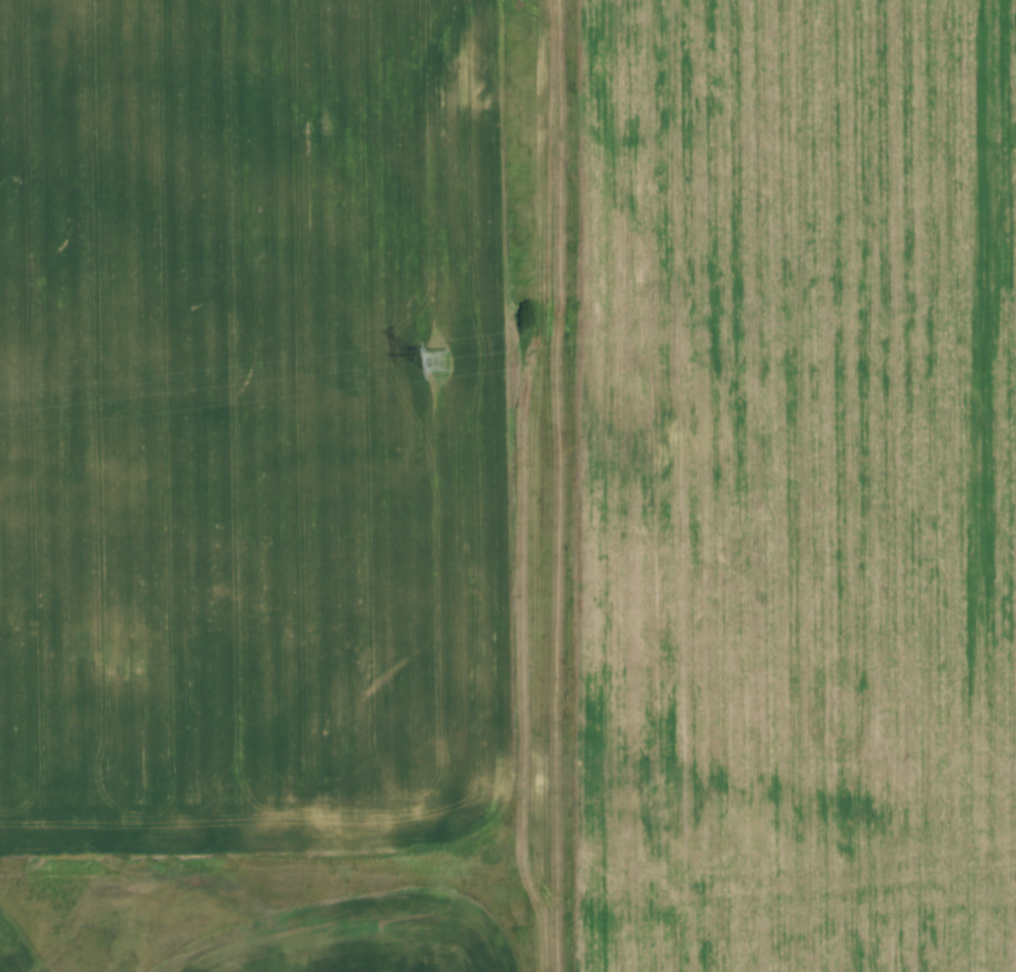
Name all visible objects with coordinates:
power tower: (433, 367)
road: (546, 485)

